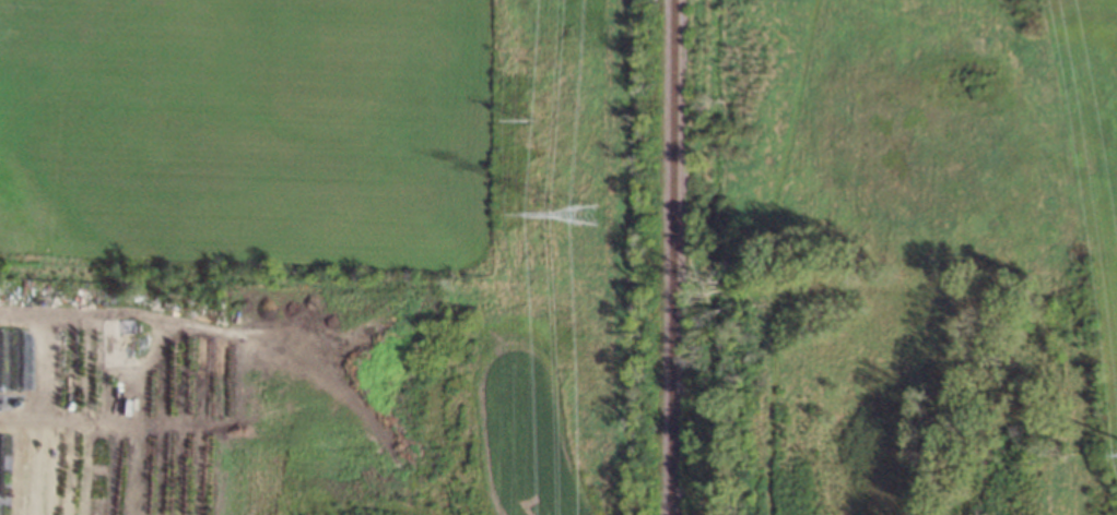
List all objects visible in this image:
power tower: (528, 119)
power tower: (584, 212)
railway: (670, 256)
building: (5, 361)

